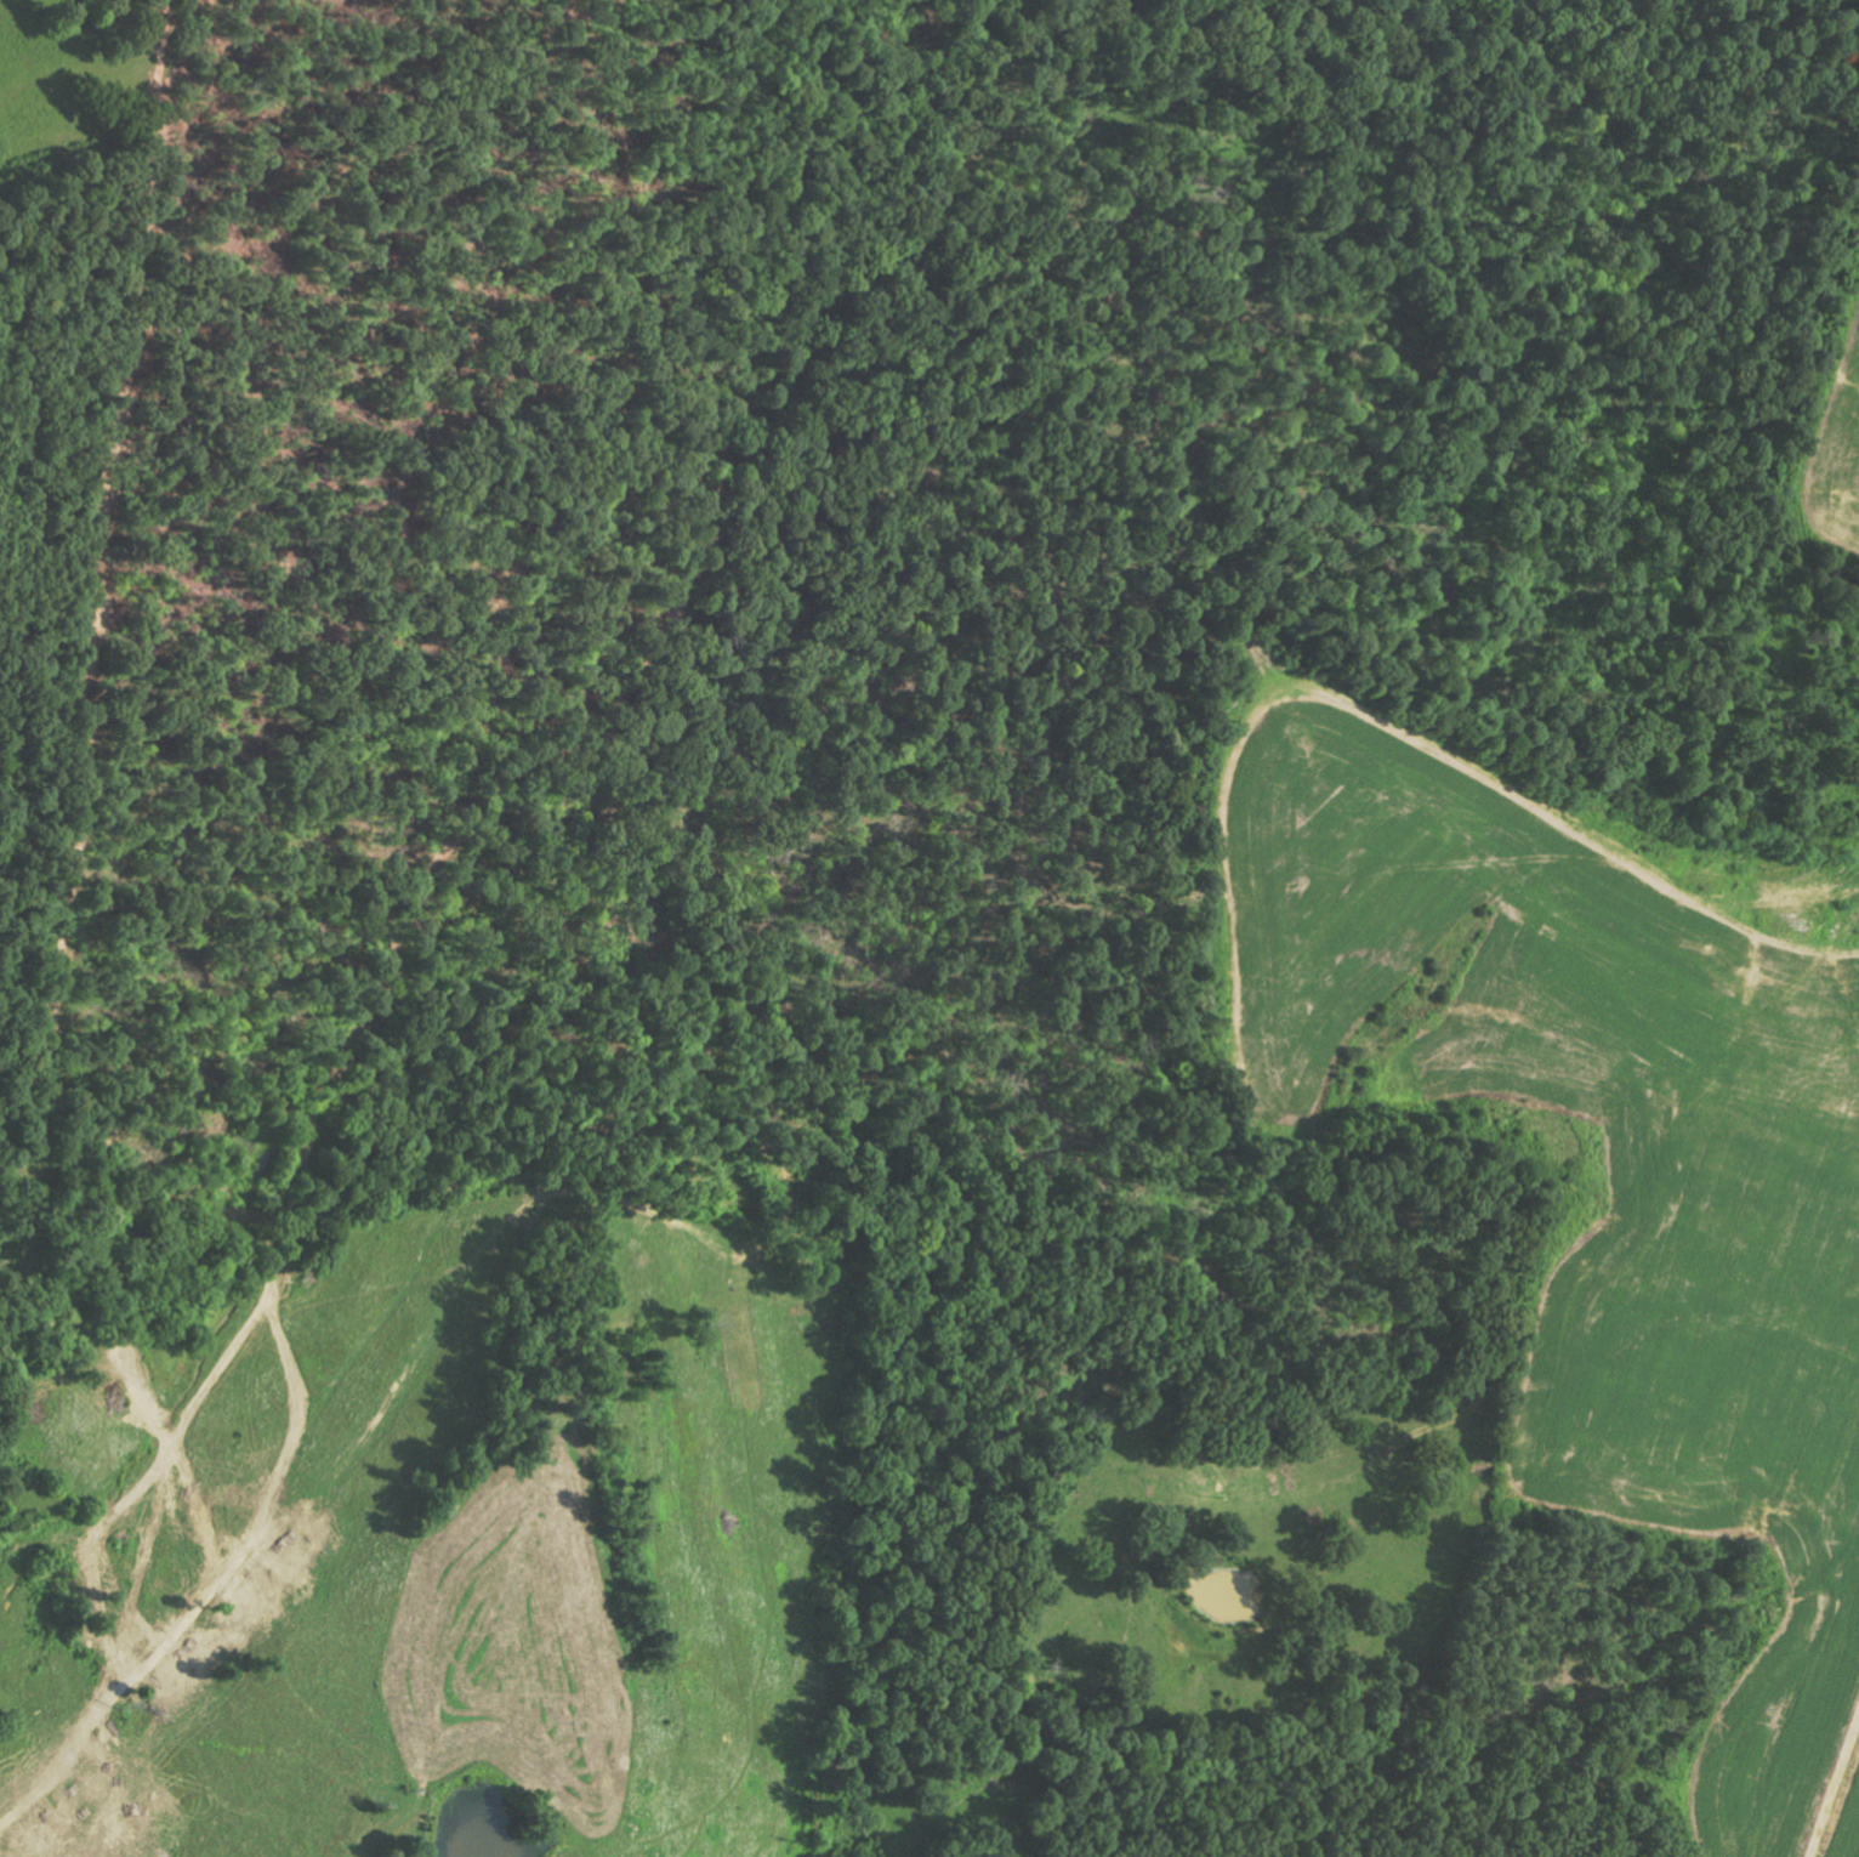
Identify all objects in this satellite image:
road: (1804, 1677)

